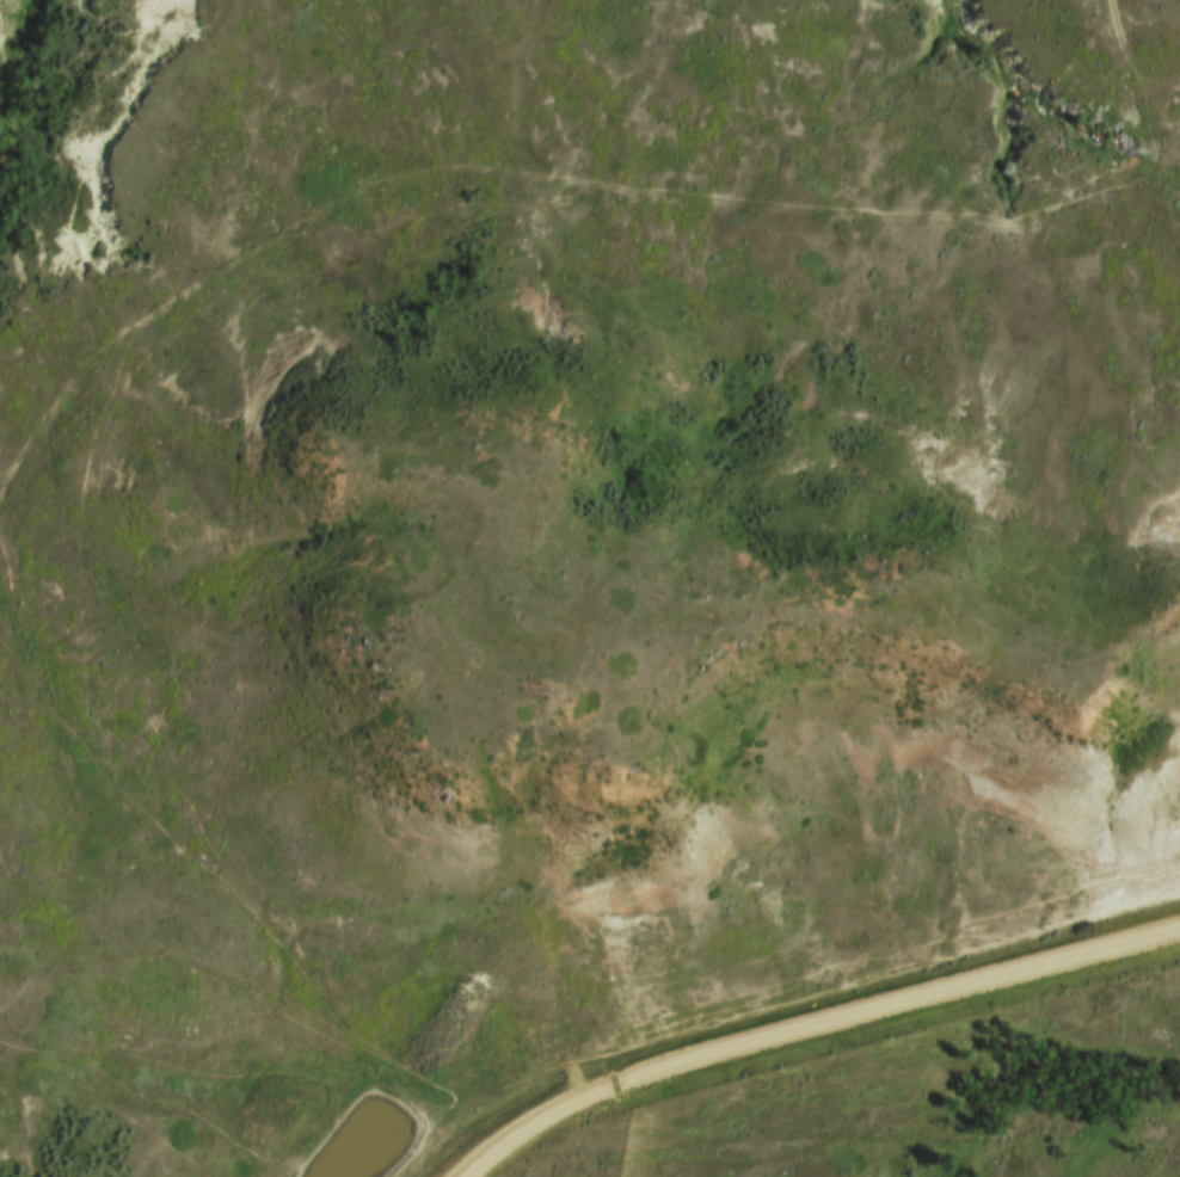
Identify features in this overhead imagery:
road: (1116, 63)
road: (809, 1033)

